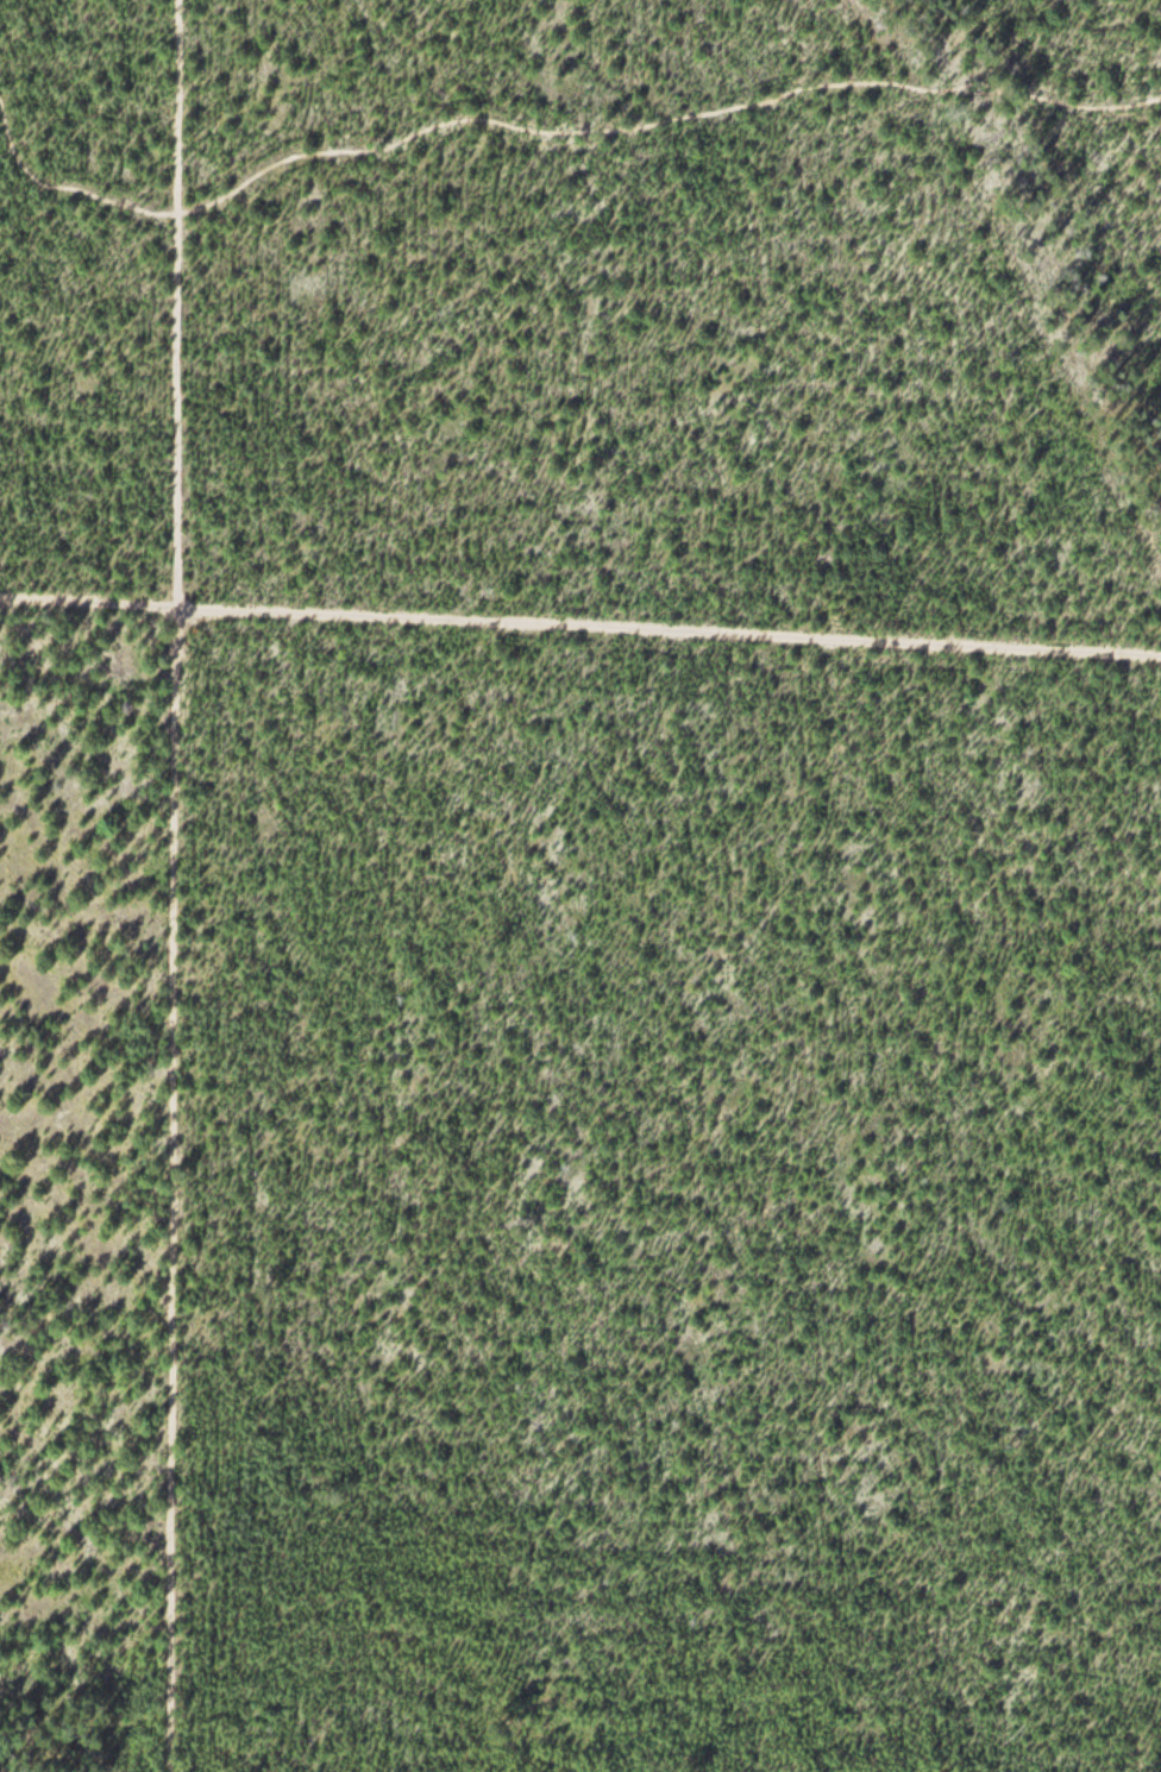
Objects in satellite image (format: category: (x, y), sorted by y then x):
road: (552, 130)
road: (579, 634)
road: (172, 885)

